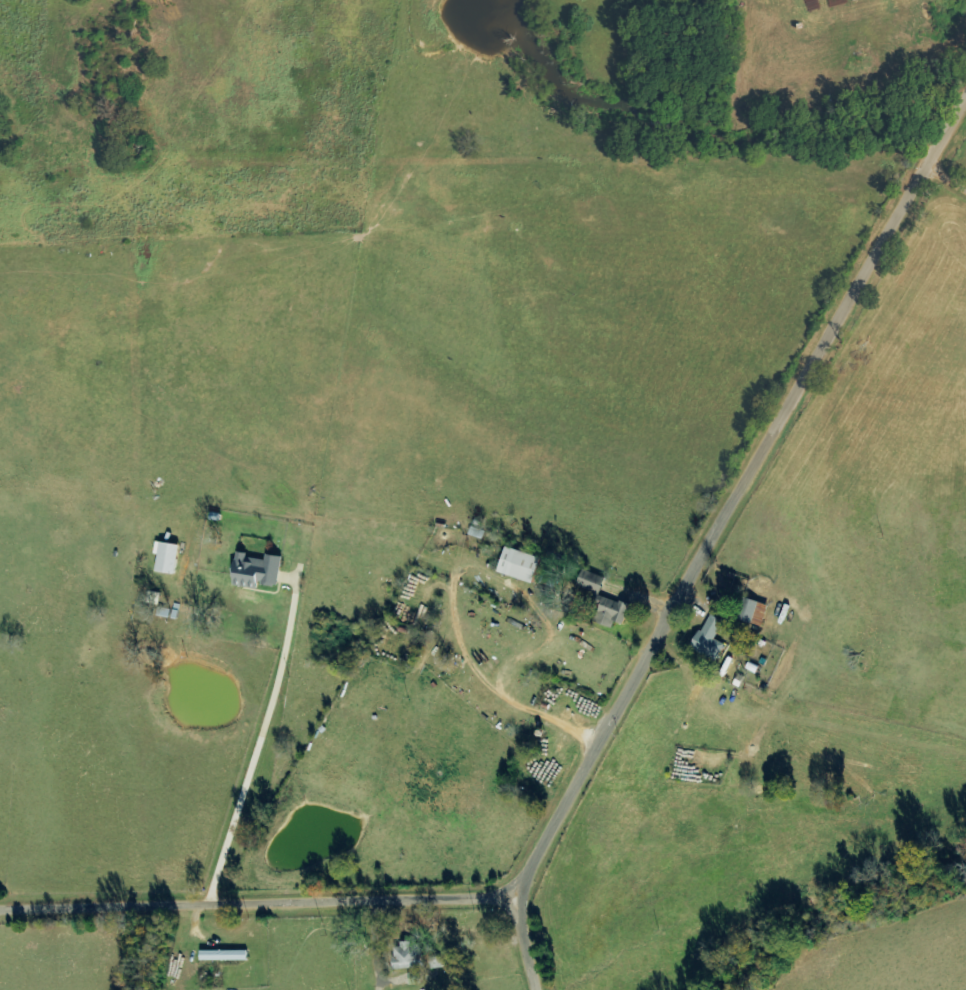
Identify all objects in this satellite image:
road: (945, 181)
road: (716, 537)
building: (169, 556)
building: (522, 564)
building: (259, 570)
building: (594, 582)
building: (612, 611)
building: (754, 611)
building: (711, 638)
road: (260, 903)
building: (226, 955)
building: (410, 956)
building: (416, 978)

